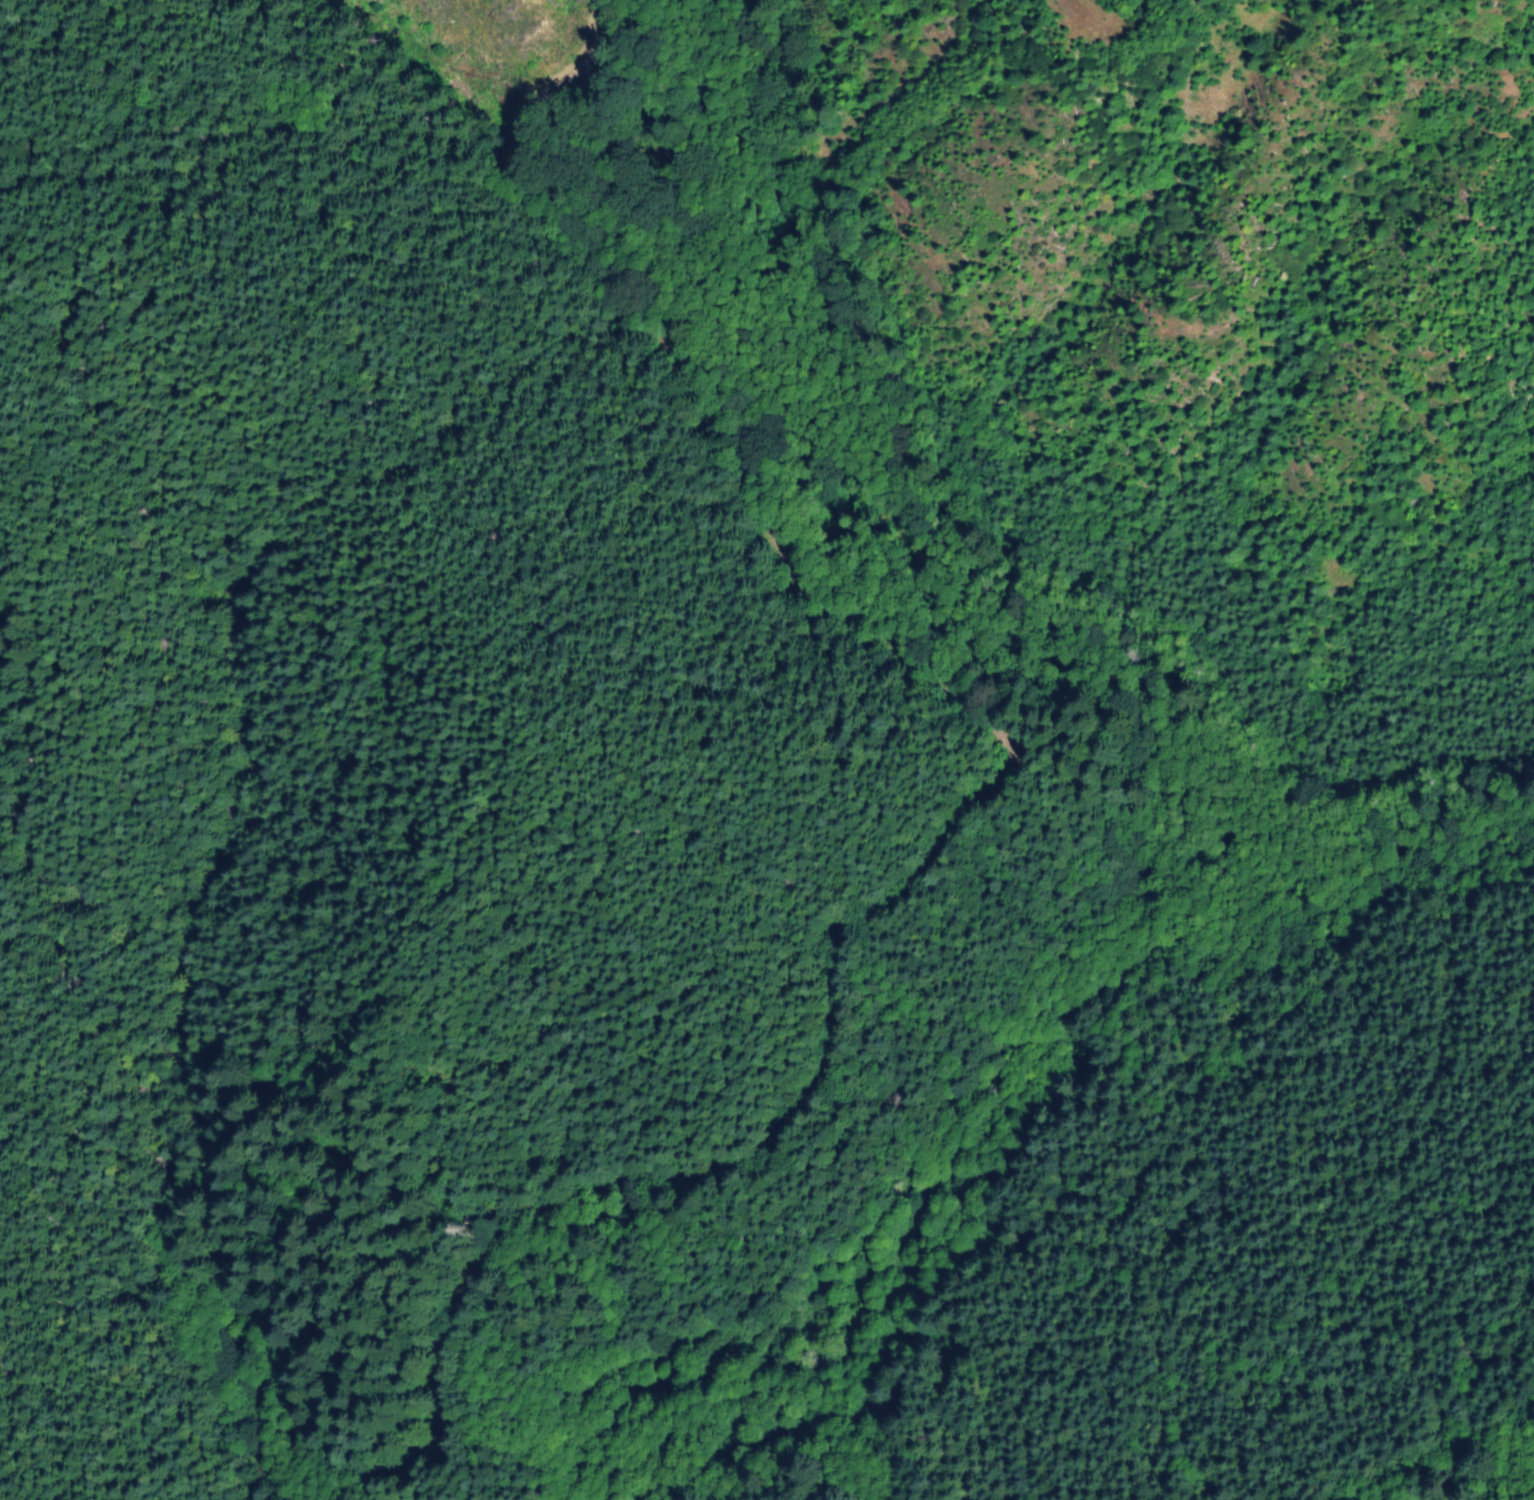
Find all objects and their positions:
road: (1100, 22)
road: (821, 861)
road: (1443, 1423)

